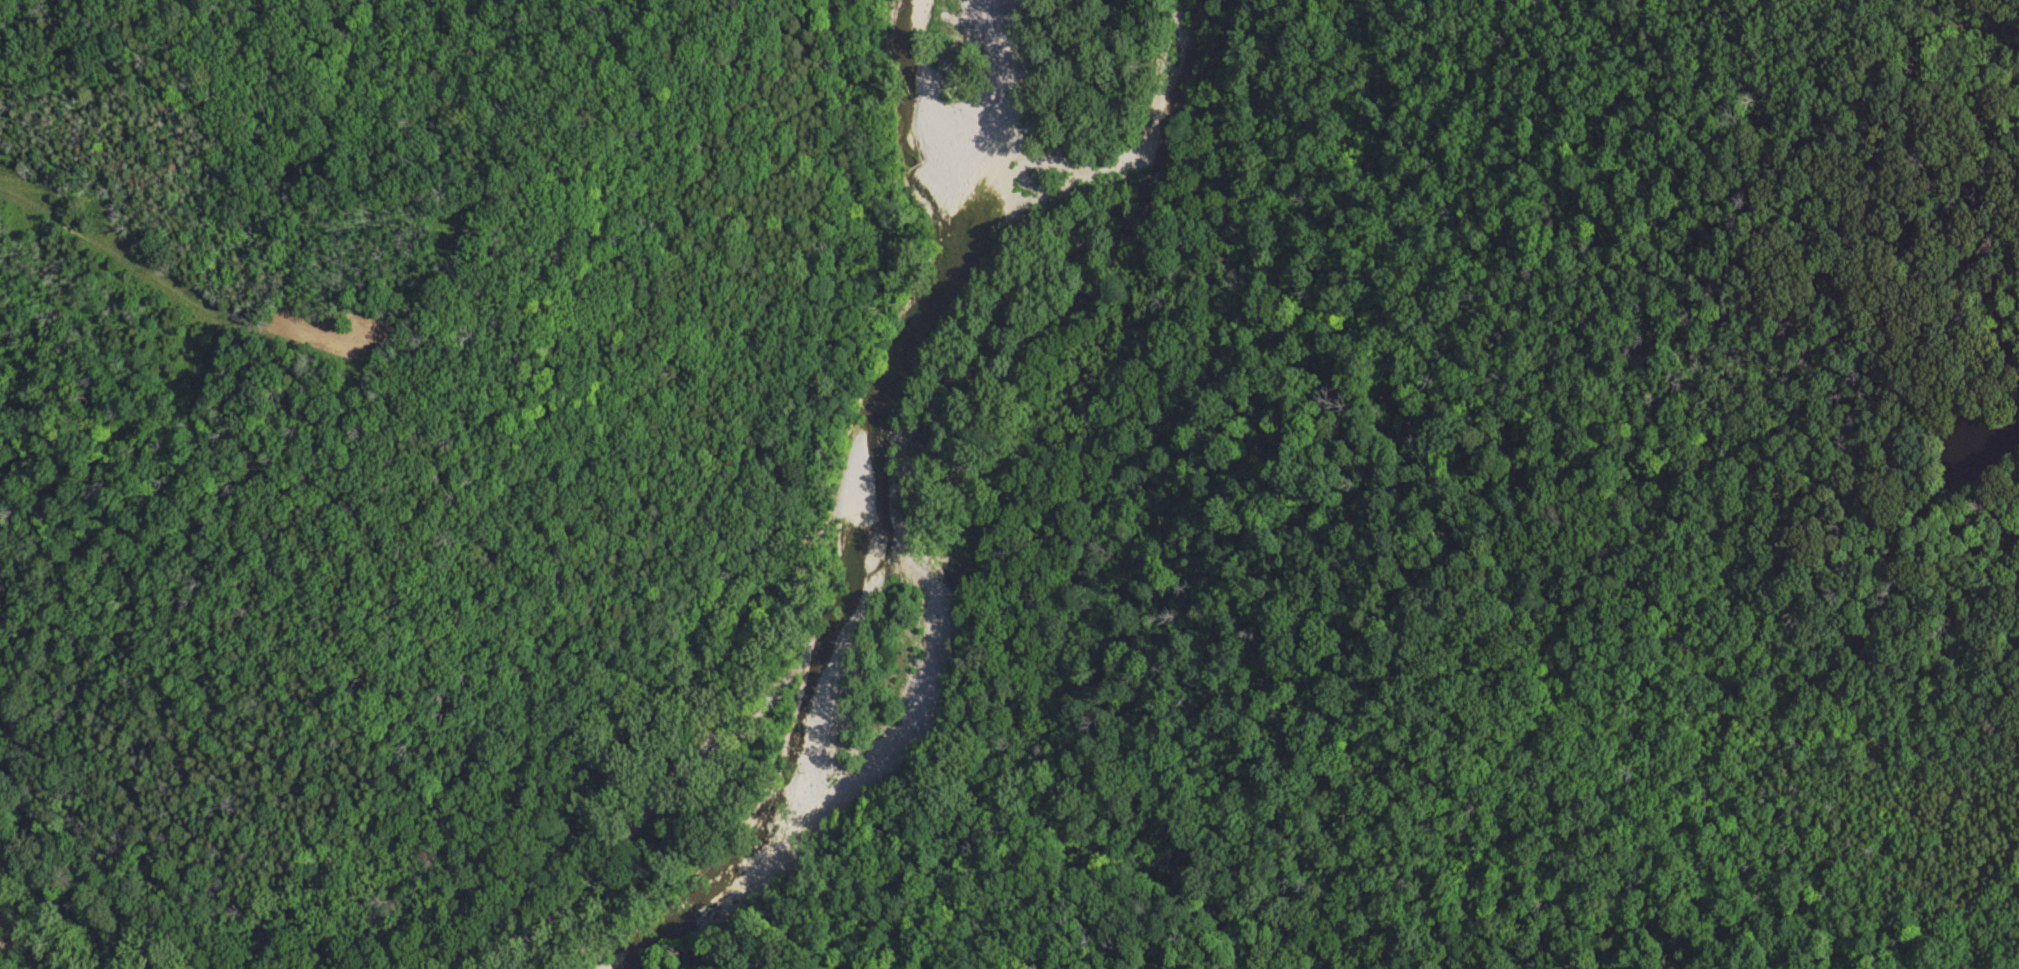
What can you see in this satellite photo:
road: (1977, 15)

